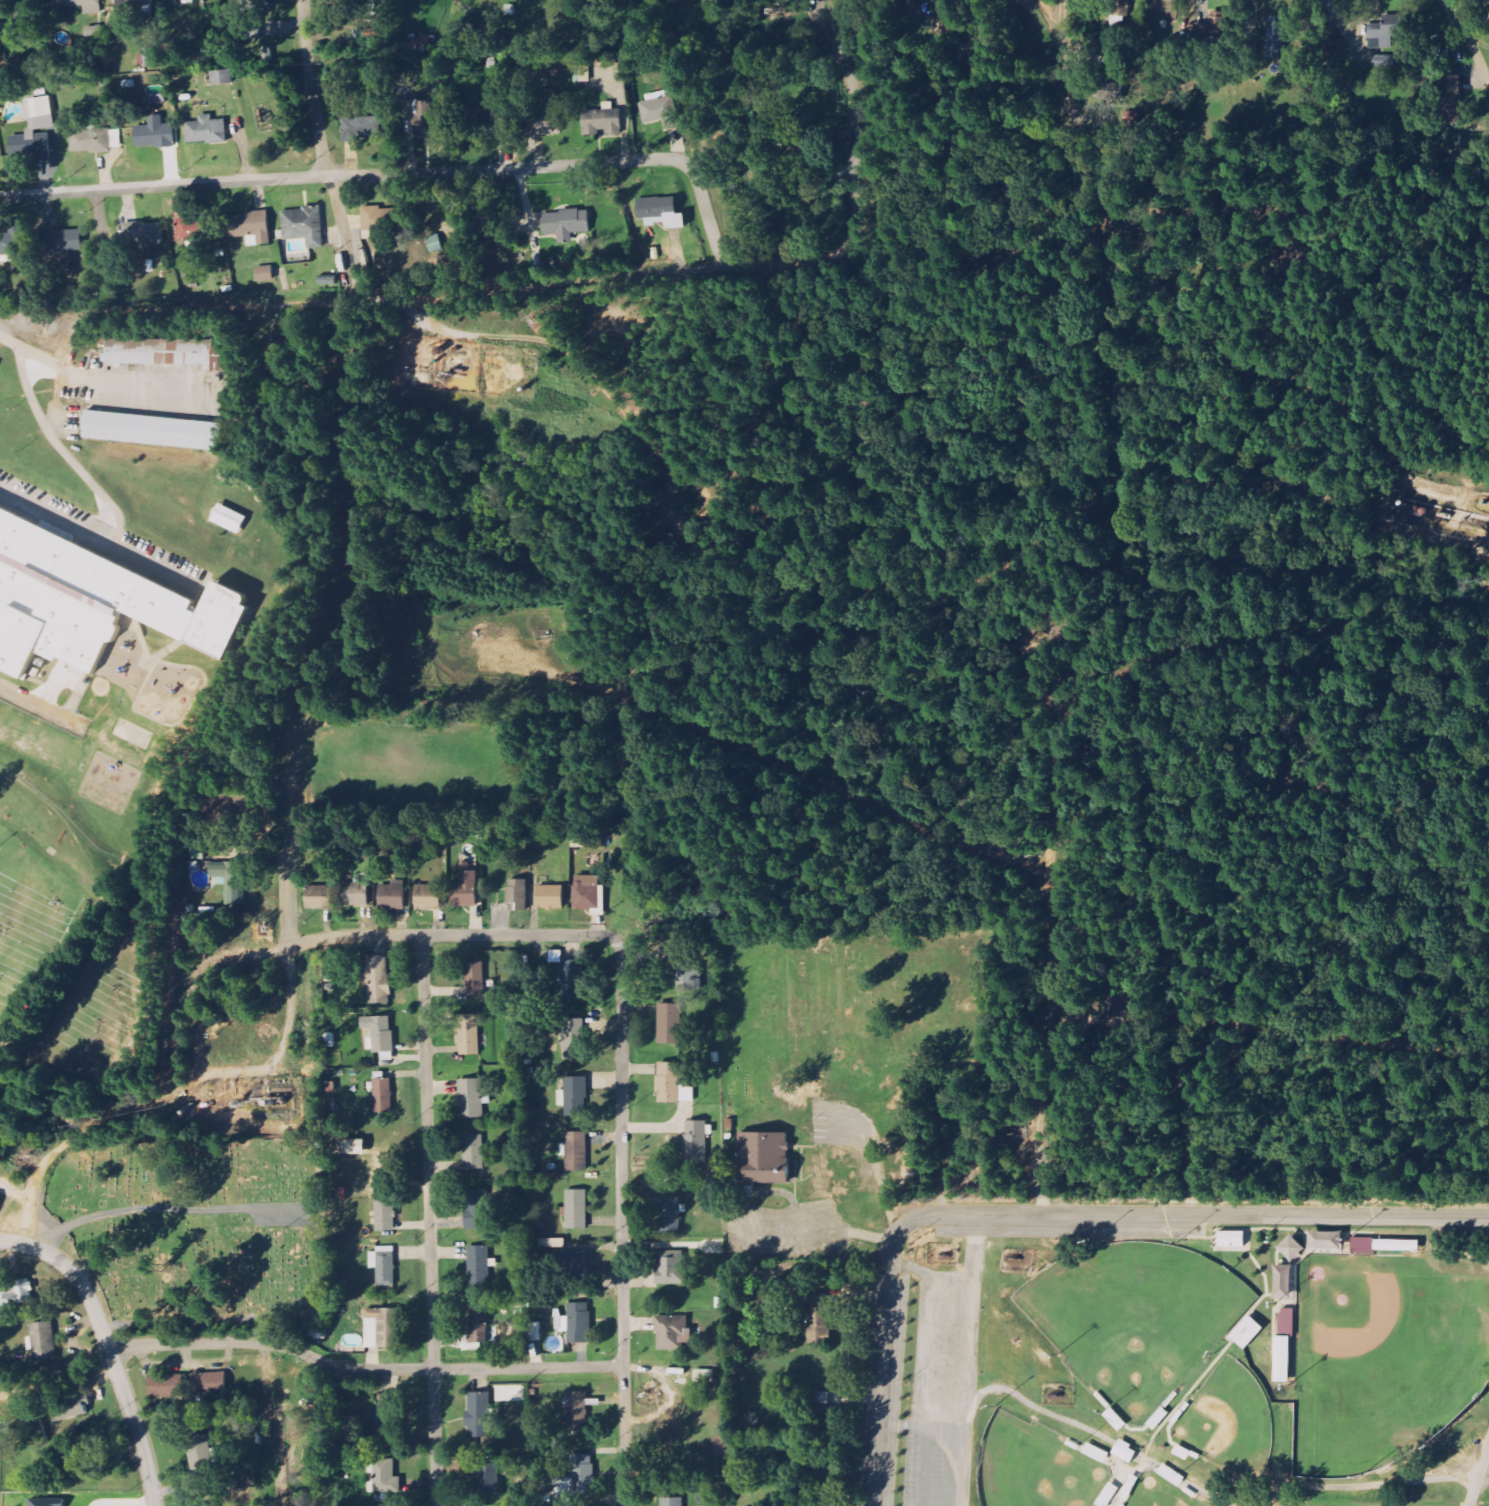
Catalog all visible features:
building: (189, 1)
building: (258, 4)
building: (81, 5)
building: (19, 9)
building: (254, 29)
building: (1388, 31)
building: (1217, 32)
road: (1471, 39)
building: (1275, 40)
building: (147, 57)
building: (581, 74)
building: (222, 76)
building: (405, 90)
building: (1451, 95)
building: (36, 107)
building: (661, 112)
building: (546, 114)
building: (423, 119)
building: (602, 121)
building: (487, 125)
building: (361, 128)
building: (206, 130)
building: (154, 134)
building: (31, 140)
building: (94, 140)
road: (322, 146)
road: (398, 174)
road: (850, 184)
building: (660, 212)
building: (566, 222)
building: (374, 224)
building: (303, 225)
building: (250, 227)
building: (195, 228)
building: (143, 235)
building: (62, 241)
road: (103, 242)
building: (8, 247)
building: (264, 273)
road: (356, 295)
road: (371, 300)
road: (112, 303)
road: (10, 341)
building: (166, 353)
road: (114, 382)
building: (152, 430)
road: (103, 496)
building: (228, 519)
parking lot: (101, 533)
road: (153, 565)
building: (128, 585)
building: (51, 618)
road: (39, 706)
building: (230, 880)
building: (465, 887)
building: (587, 892)
building: (355, 894)
building: (517, 894)
building: (392, 896)
building: (549, 896)
building: (318, 897)
building: (428, 897)
road: (401, 936)
building: (688, 973)
building: (475, 977)
building: (378, 979)
building: (572, 980)
building: (669, 1023)
building: (468, 1034)
building: (380, 1035)
building: (573, 1039)
building: (329, 1040)
road: (282, 1046)
building: (672, 1084)
road: (169, 1091)
building: (383, 1095)
building: (574, 1096)
building: (471, 1098)
building: (696, 1142)
building: (354, 1147)
building: (575, 1151)
building: (472, 1152)
building: (763, 1158)
road: (170, 1208)
building: (473, 1209)
building: (577, 1209)
building: (385, 1213)
building: (670, 1213)
road: (1193, 1216)
road: (429, 1220)
road: (622, 1222)
park: (197, 1233)
building: (1231, 1239)
building: (1325, 1240)
road: (19, 1244)
building: (1396, 1245)
road: (973, 1246)
building: (1362, 1246)
building: (713, 1247)
building: (1291, 1248)
building: (383, 1265)
building: (478, 1265)
building: (671, 1267)
building: (1283, 1282)
building: (18, 1294)
building: (818, 1318)
park: (1136, 1319)
road: (287, 1320)
building: (1286, 1322)
building: (578, 1323)
building: (382, 1328)
building: (481, 1328)
building: (534, 1332)
building: (672, 1332)
building: (1247, 1332)
building: (318, 1333)
building: (43, 1341)
road: (968, 1350)
park: (1385, 1357)
building: (1282, 1359)
road: (881, 1365)
road: (113, 1366)
park: (1190, 1367)
road: (363, 1371)
building: (704, 1376)
building: (208, 1383)
building: (165, 1386)
road: (927, 1390)
building: (510, 1393)
road: (1037, 1409)
building: (73, 1410)
building: (822, 1410)
building: (577, 1411)
building: (477, 1412)
building: (383, 1421)
park: (1230, 1421)
road: (920, 1426)
building: (1125, 1451)
building: (1096, 1453)
building: (201, 1454)
park: (1035, 1468)
building: (385, 1476)
building: (485, 1476)
road: (1479, 1477)
building: (576, 1481)
road: (1386, 1484)
park: (1160, 1492)
building: (45, 1501)
building: (672, 1502)

